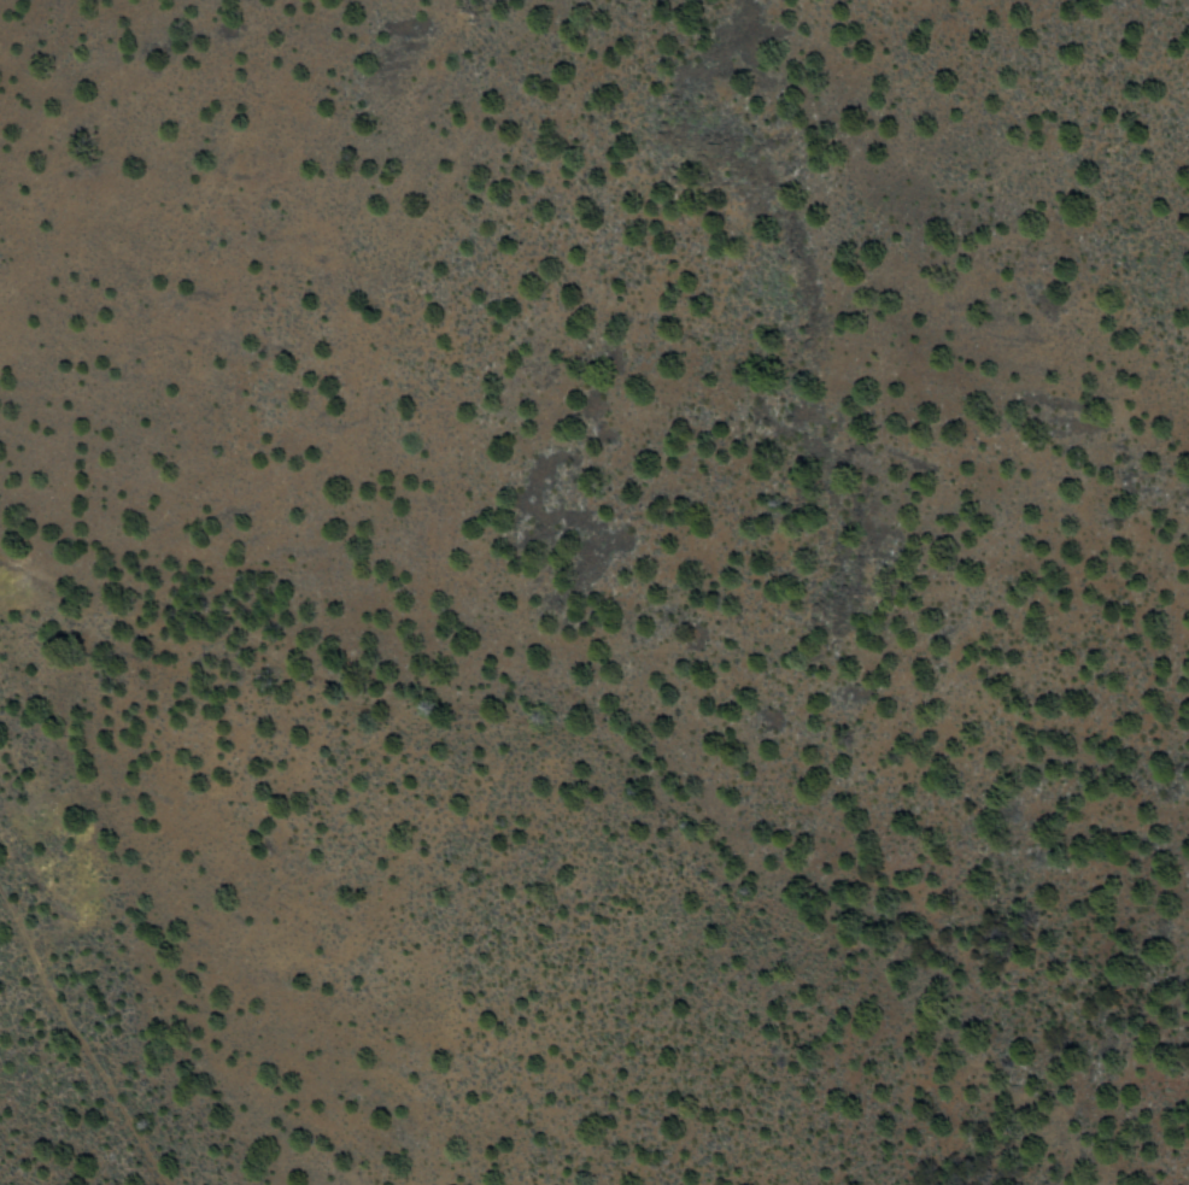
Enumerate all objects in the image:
road: (80, 1037)

